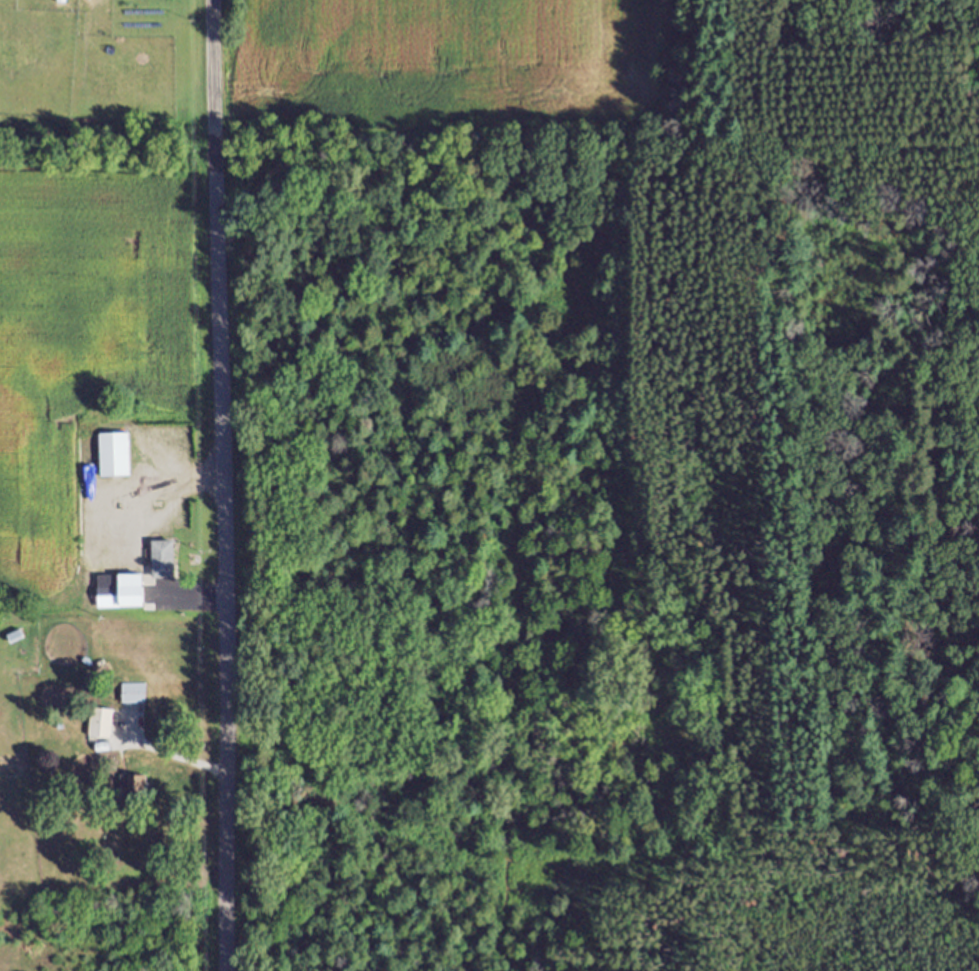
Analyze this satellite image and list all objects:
crop: (462, 61)
road: (214, 78)
crop: (93, 311)
building: (116, 456)
building: (168, 561)
road: (224, 563)
building: (110, 592)
building: (138, 592)
building: (137, 695)
building: (104, 724)
road: (174, 756)
building: (137, 789)
park: (113, 945)

